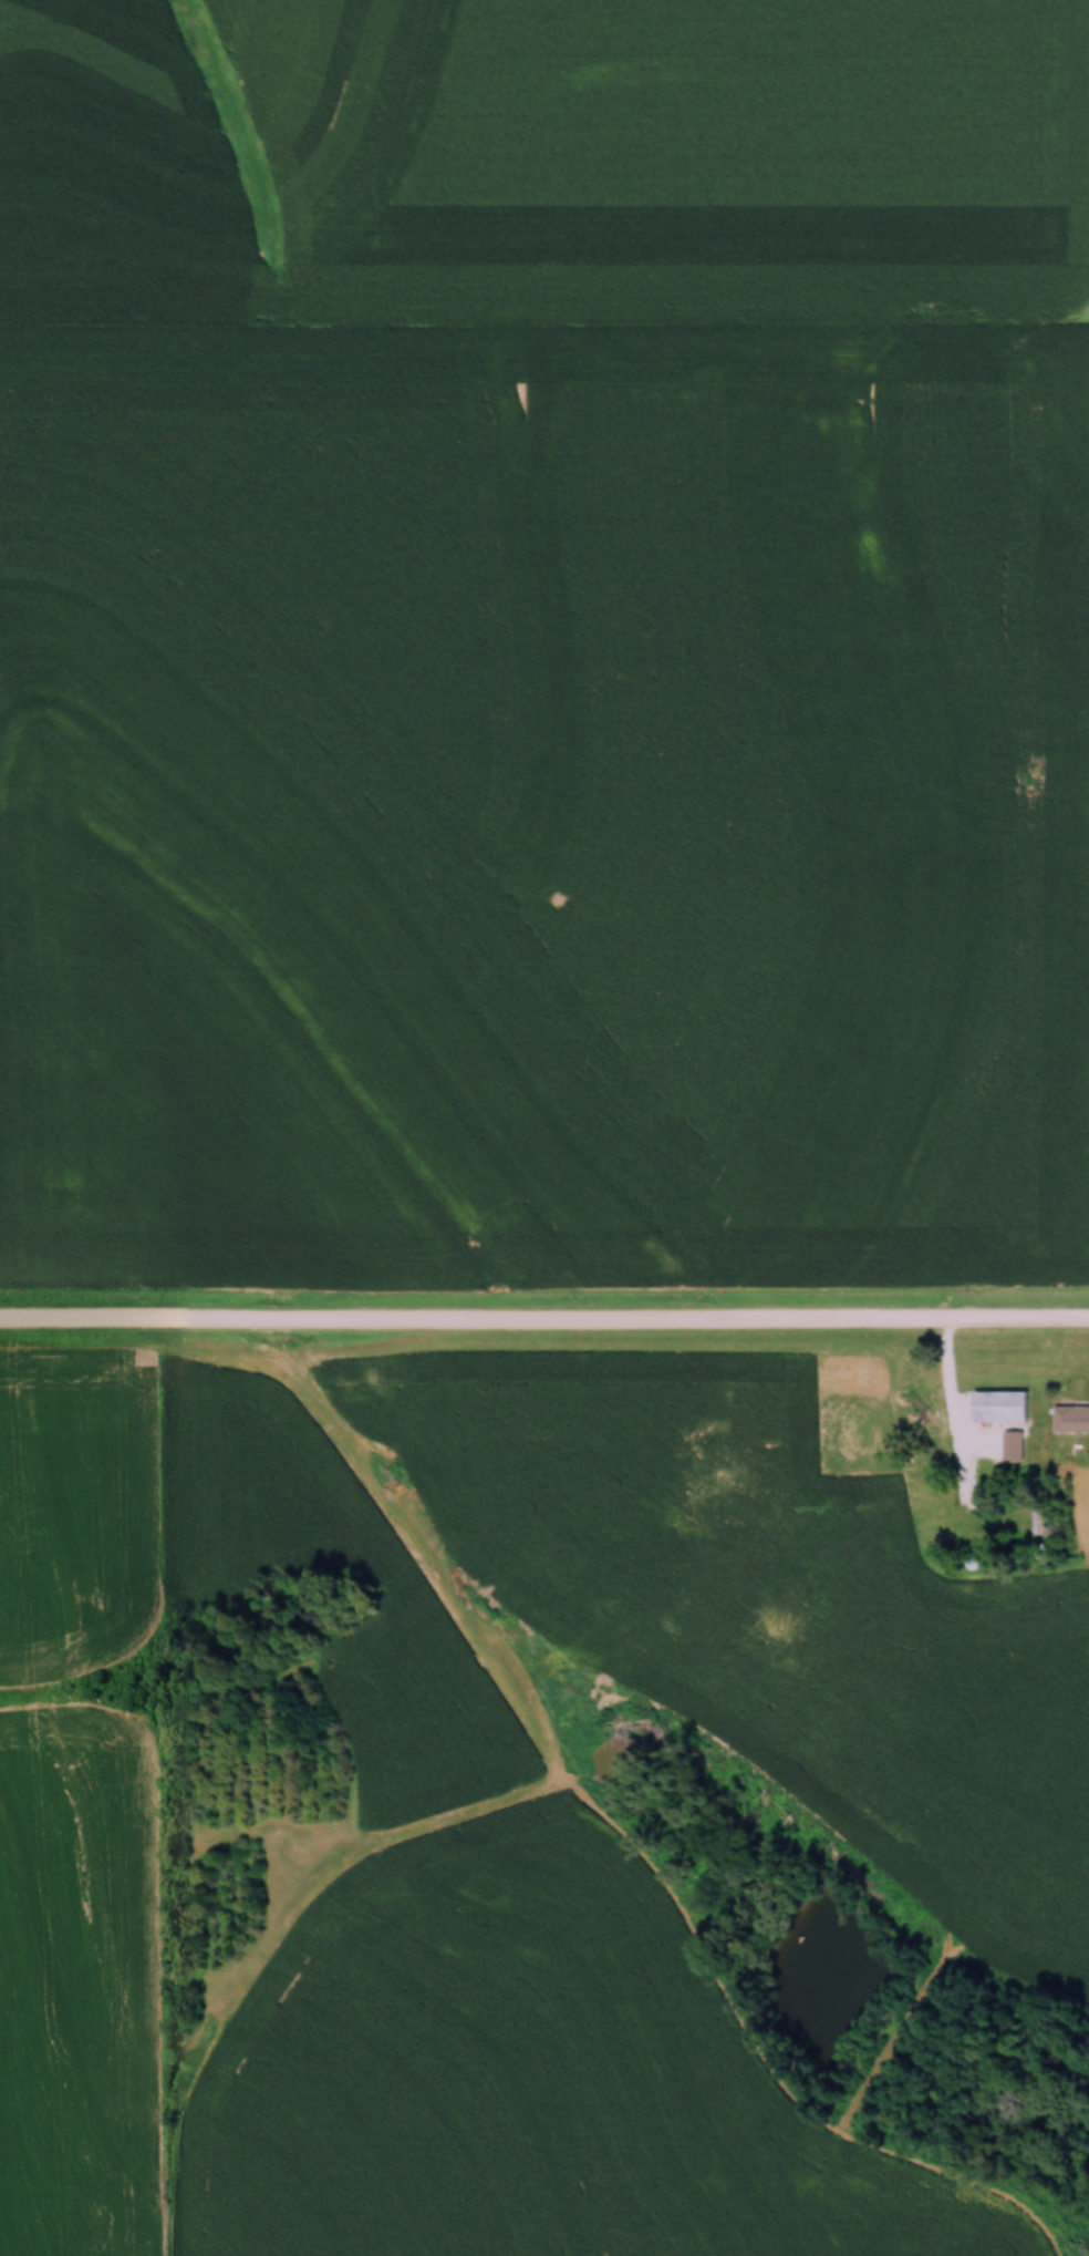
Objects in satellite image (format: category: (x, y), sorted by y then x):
road: (543, 1320)
building: (902, 1377)
road: (946, 1402)
building: (998, 1407)
building: (1070, 1419)
building: (770, 1443)
building: (1010, 1444)
building: (1041, 1529)

